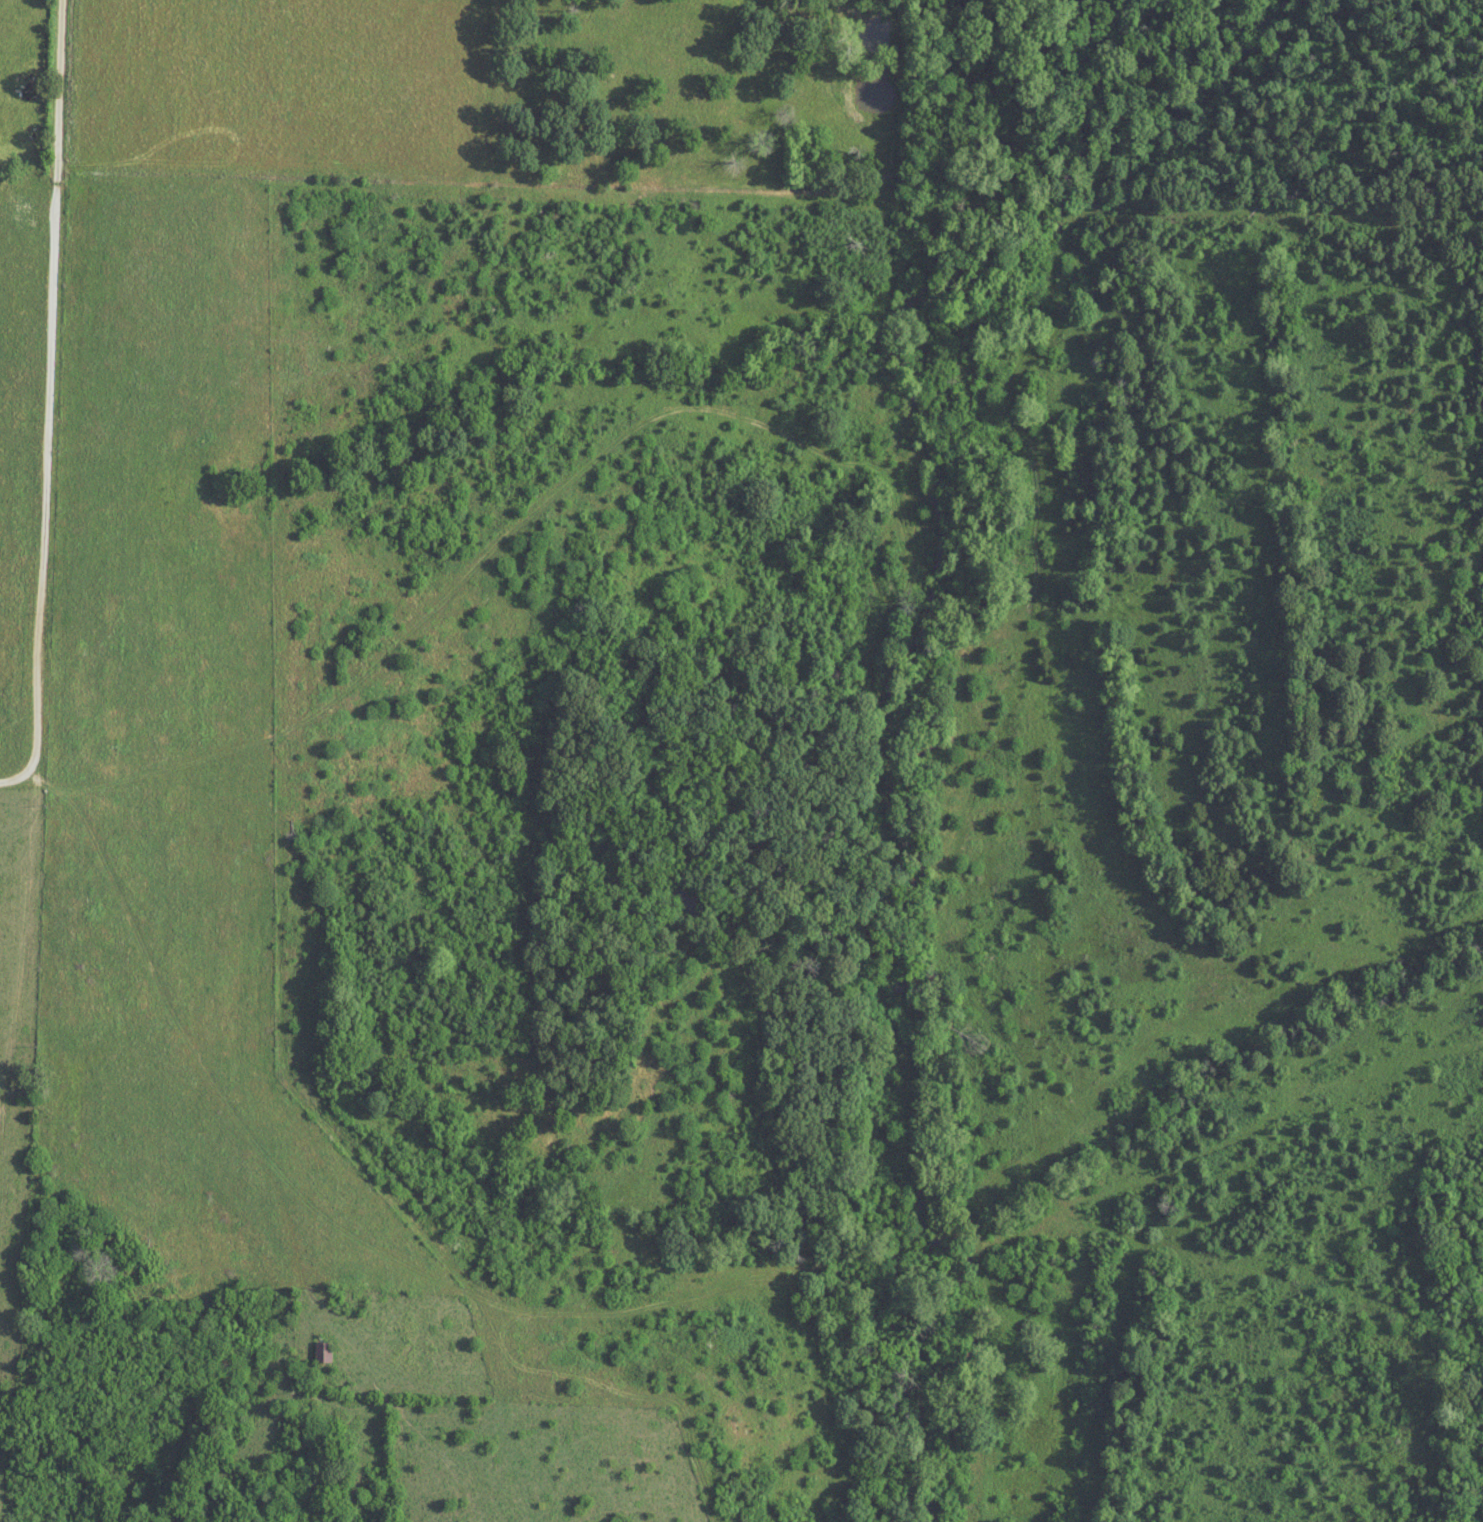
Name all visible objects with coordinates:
road: (50, 406)
building: (322, 1351)

